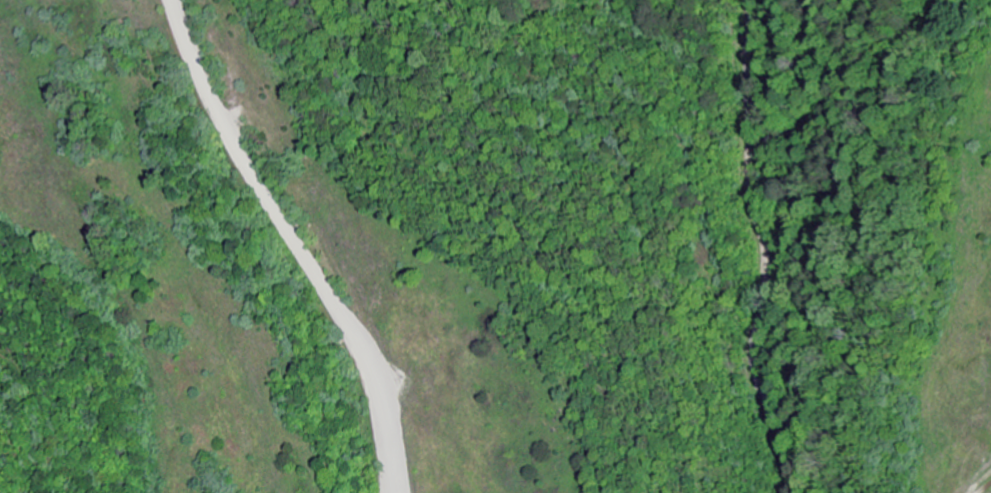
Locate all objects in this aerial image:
road: (290, 241)
road: (725, 246)

